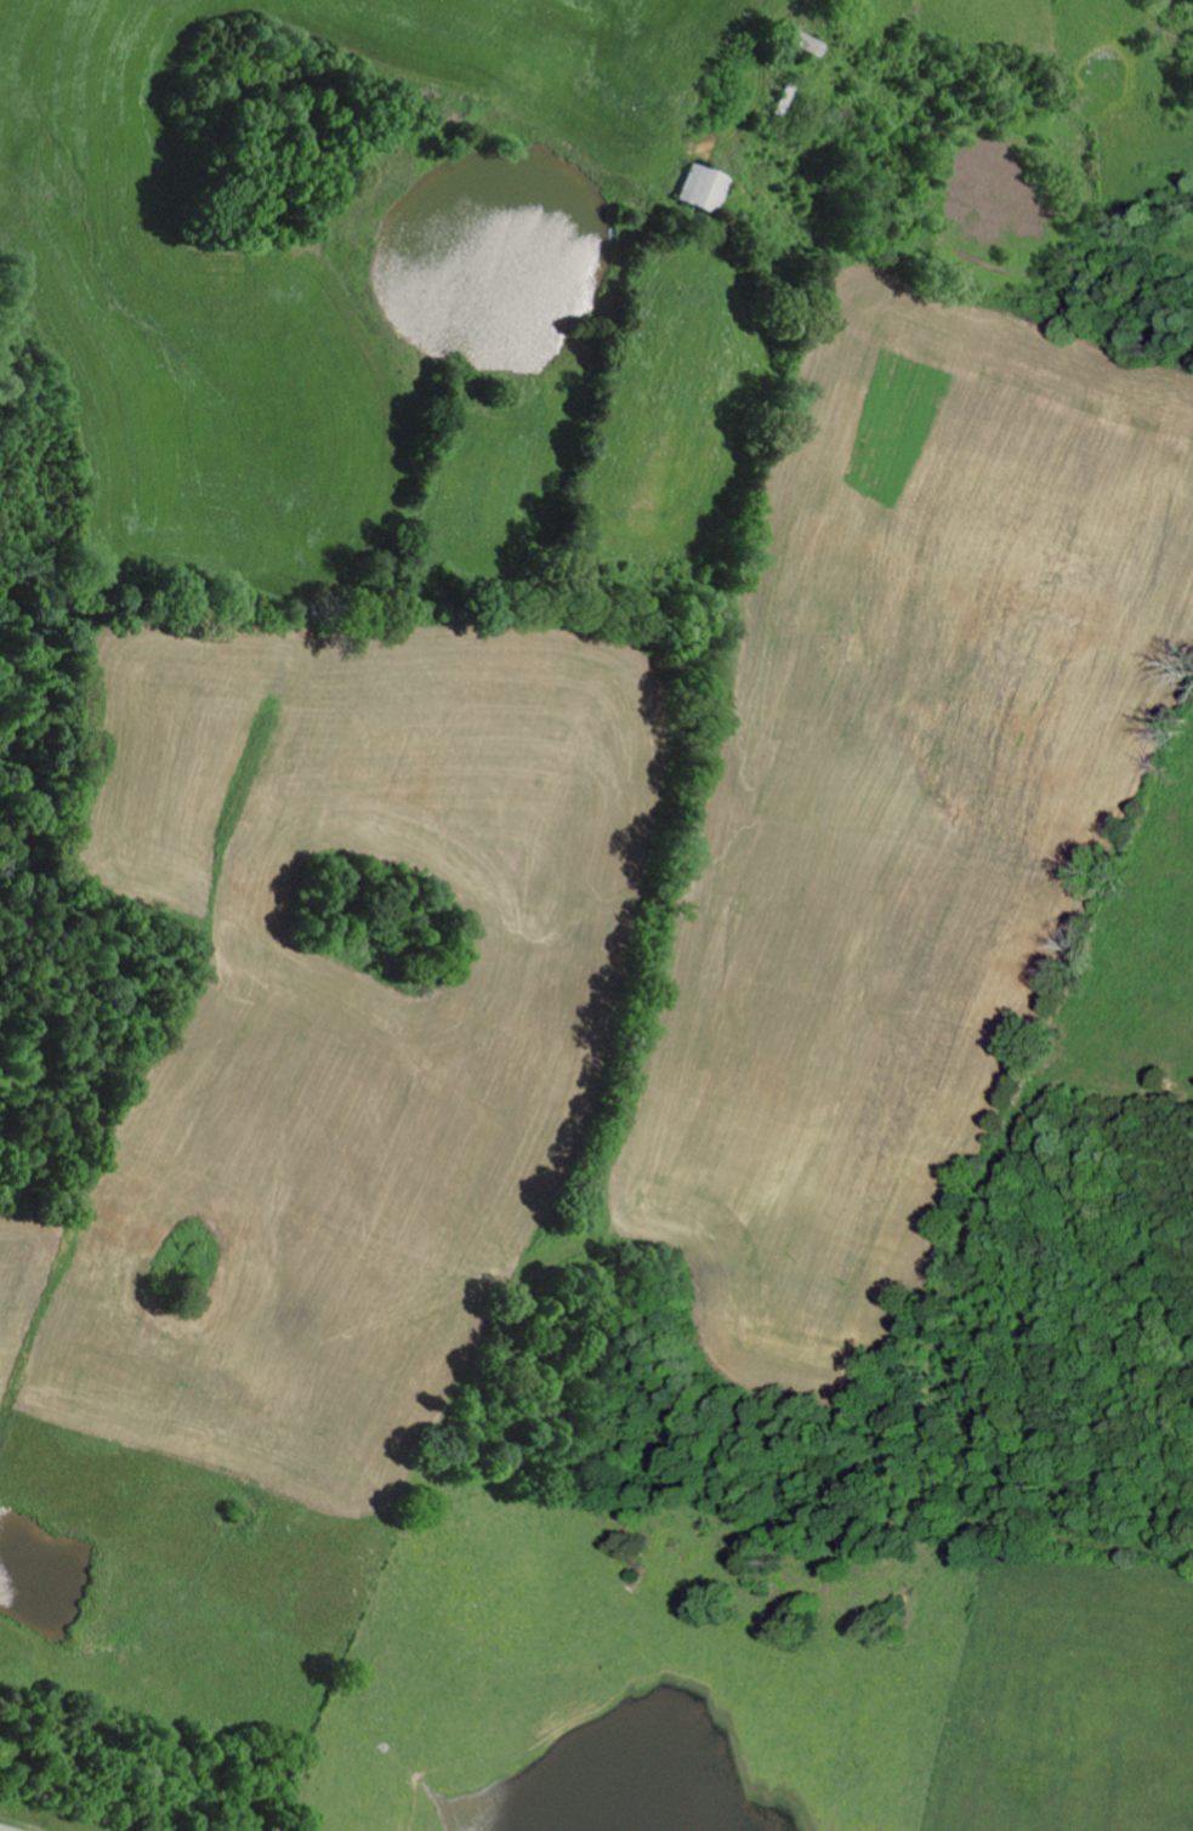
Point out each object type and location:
building: (801, 42)
building: (700, 188)
building: (4, 1830)

